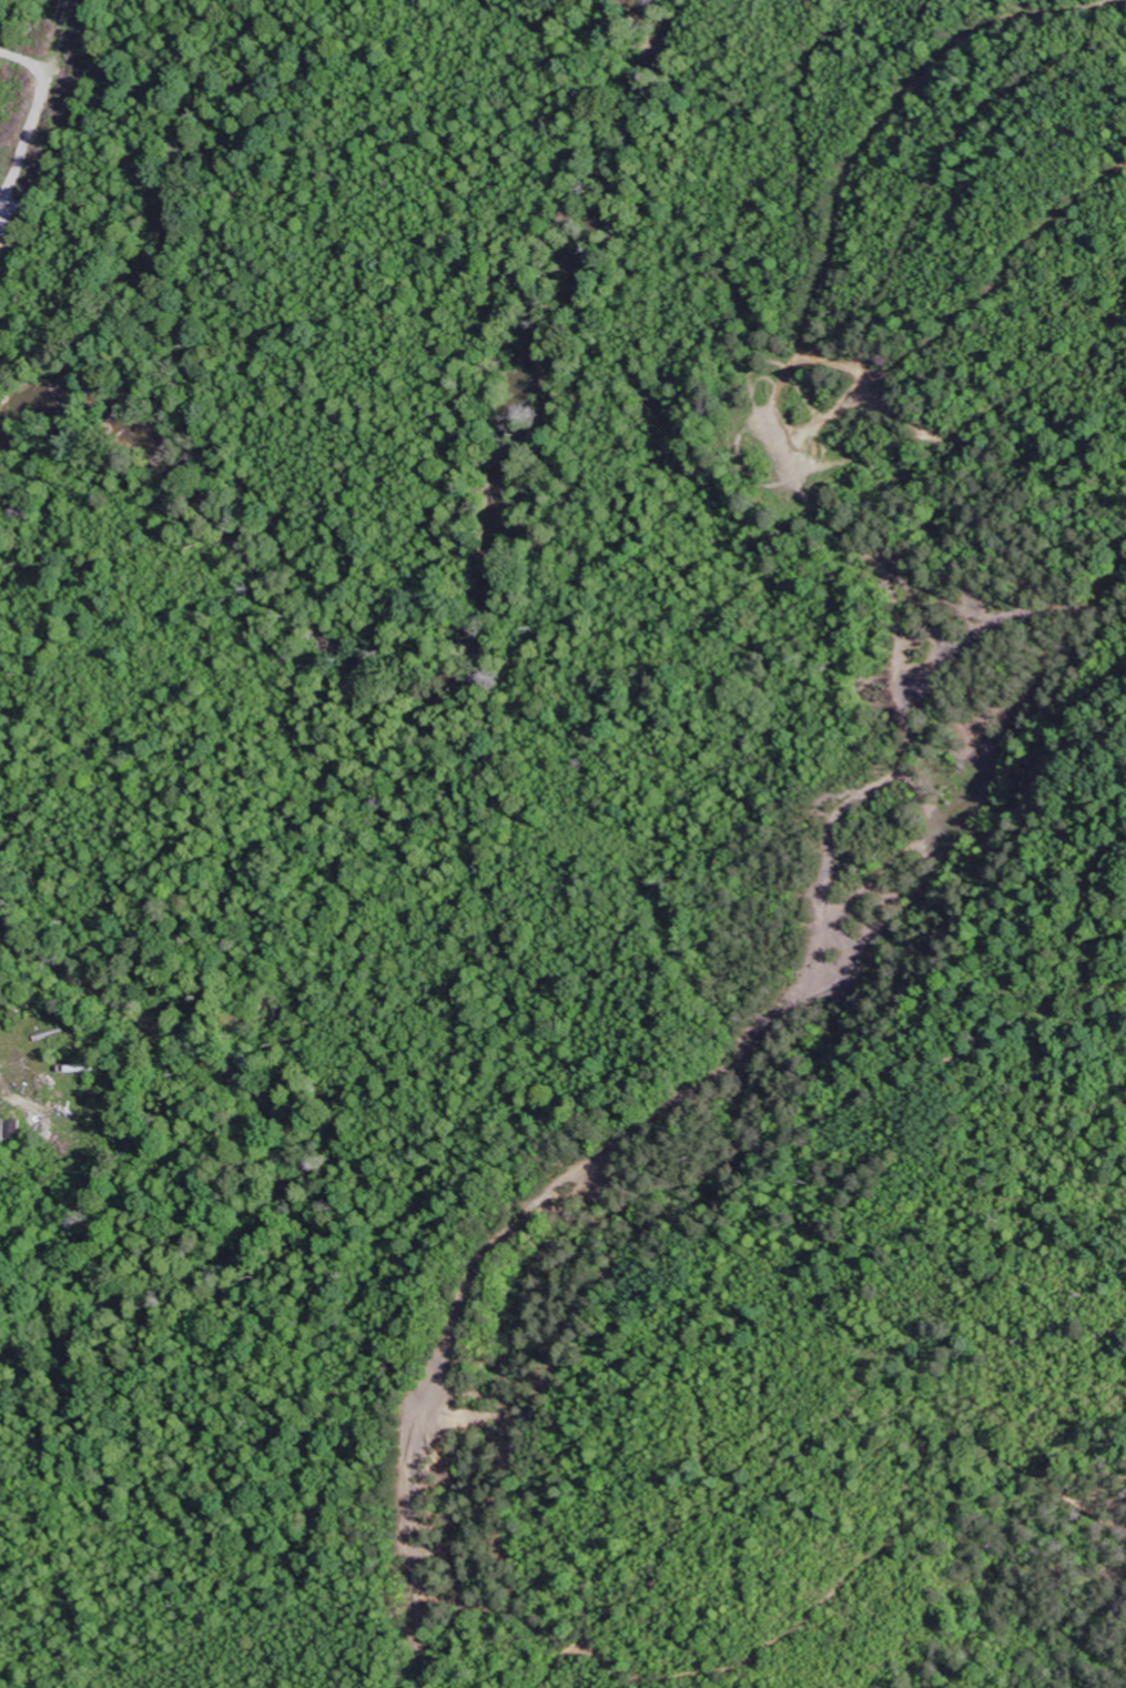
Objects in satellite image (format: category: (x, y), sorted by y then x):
river: (463, 588)
building: (10, 1130)
river: (274, 1143)

